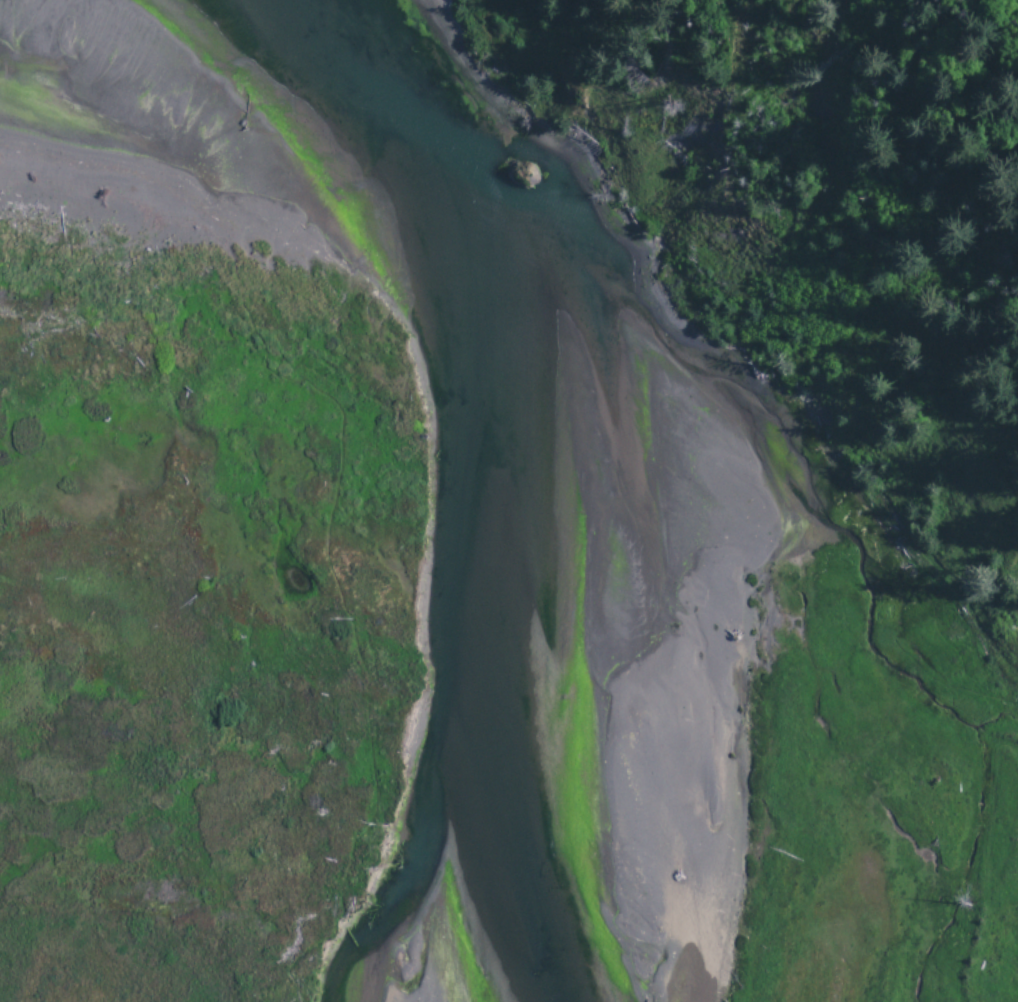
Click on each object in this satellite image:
river: (555, 447)

